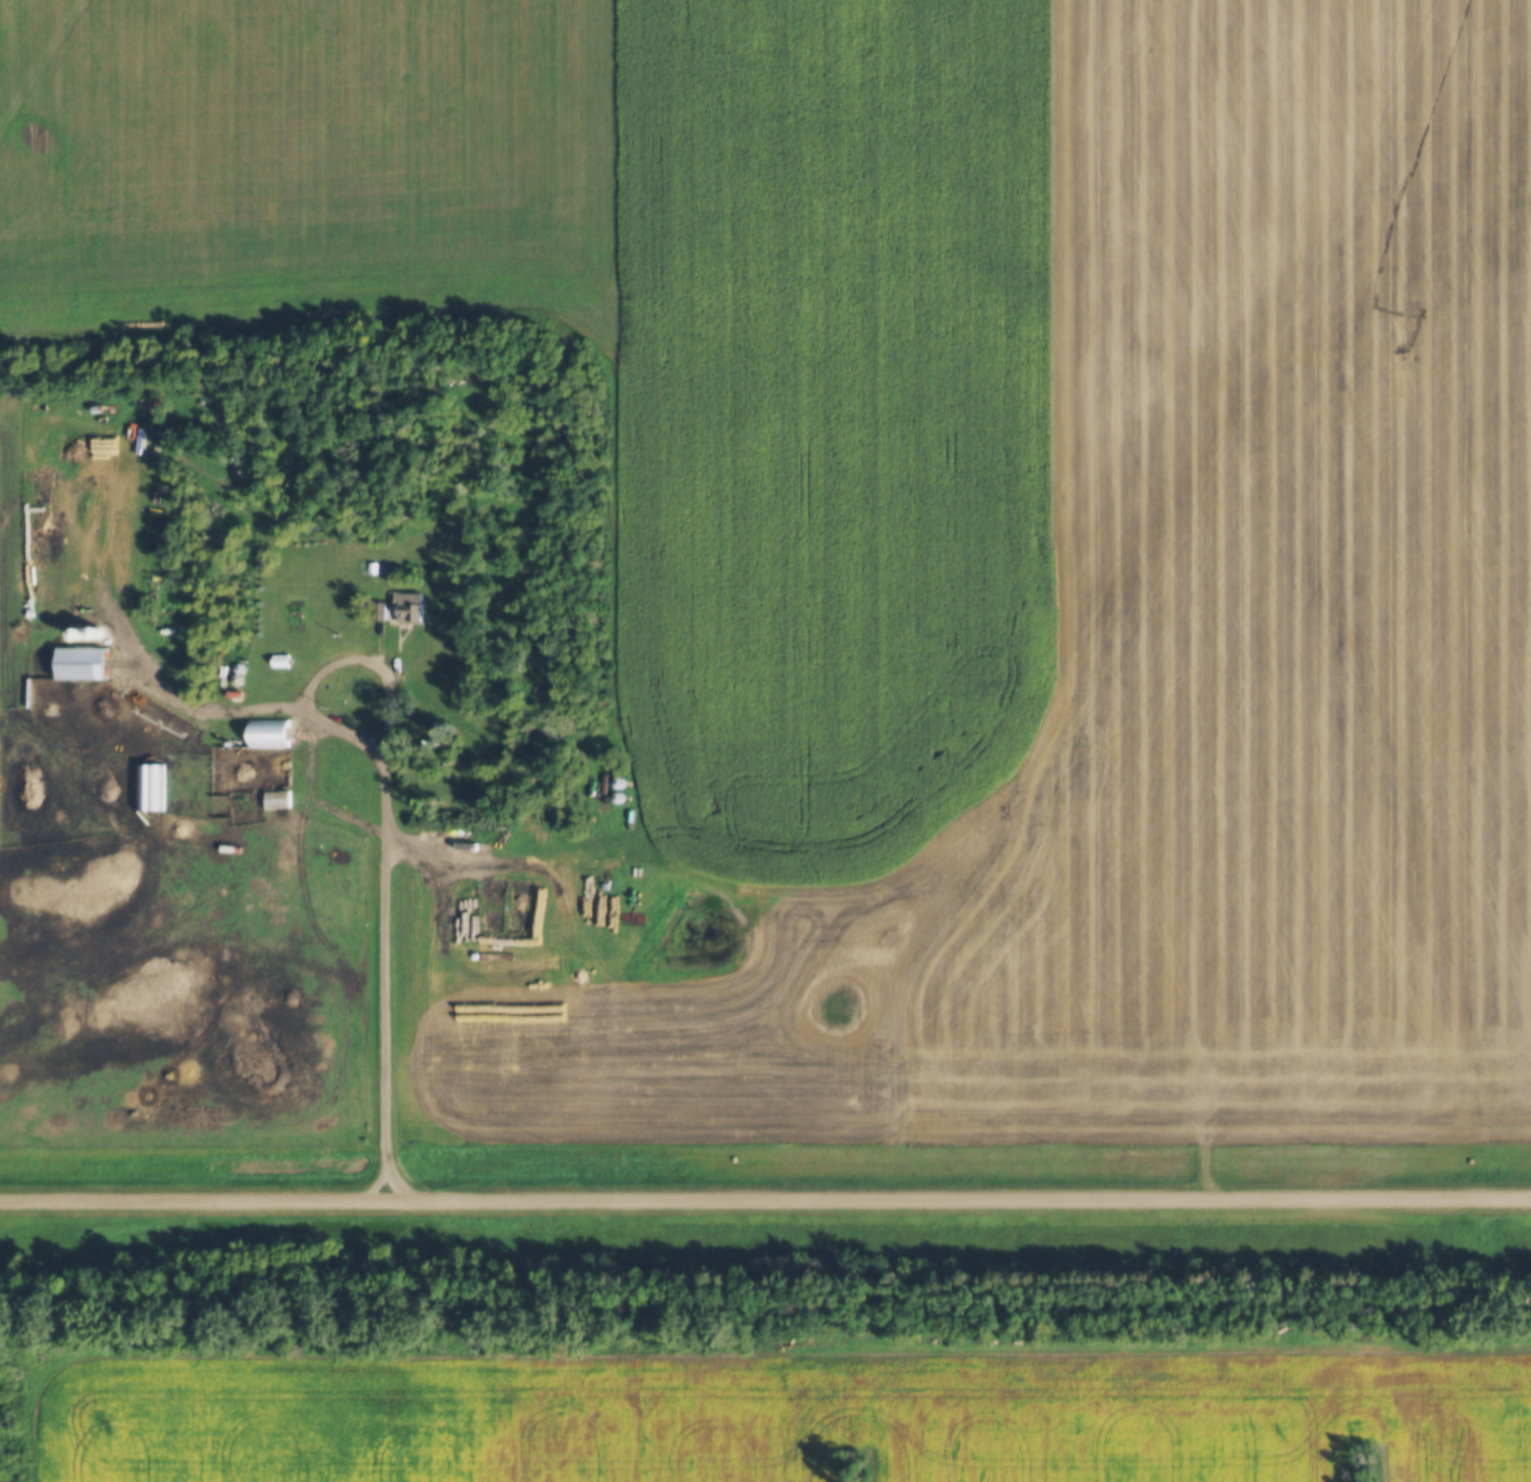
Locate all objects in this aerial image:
building: (409, 607)
building: (379, 609)
building: (281, 660)
building: (82, 663)
building: (269, 733)
building: (619, 782)
building: (277, 799)
road: (385, 829)
road: (974, 1116)
road: (765, 1198)

